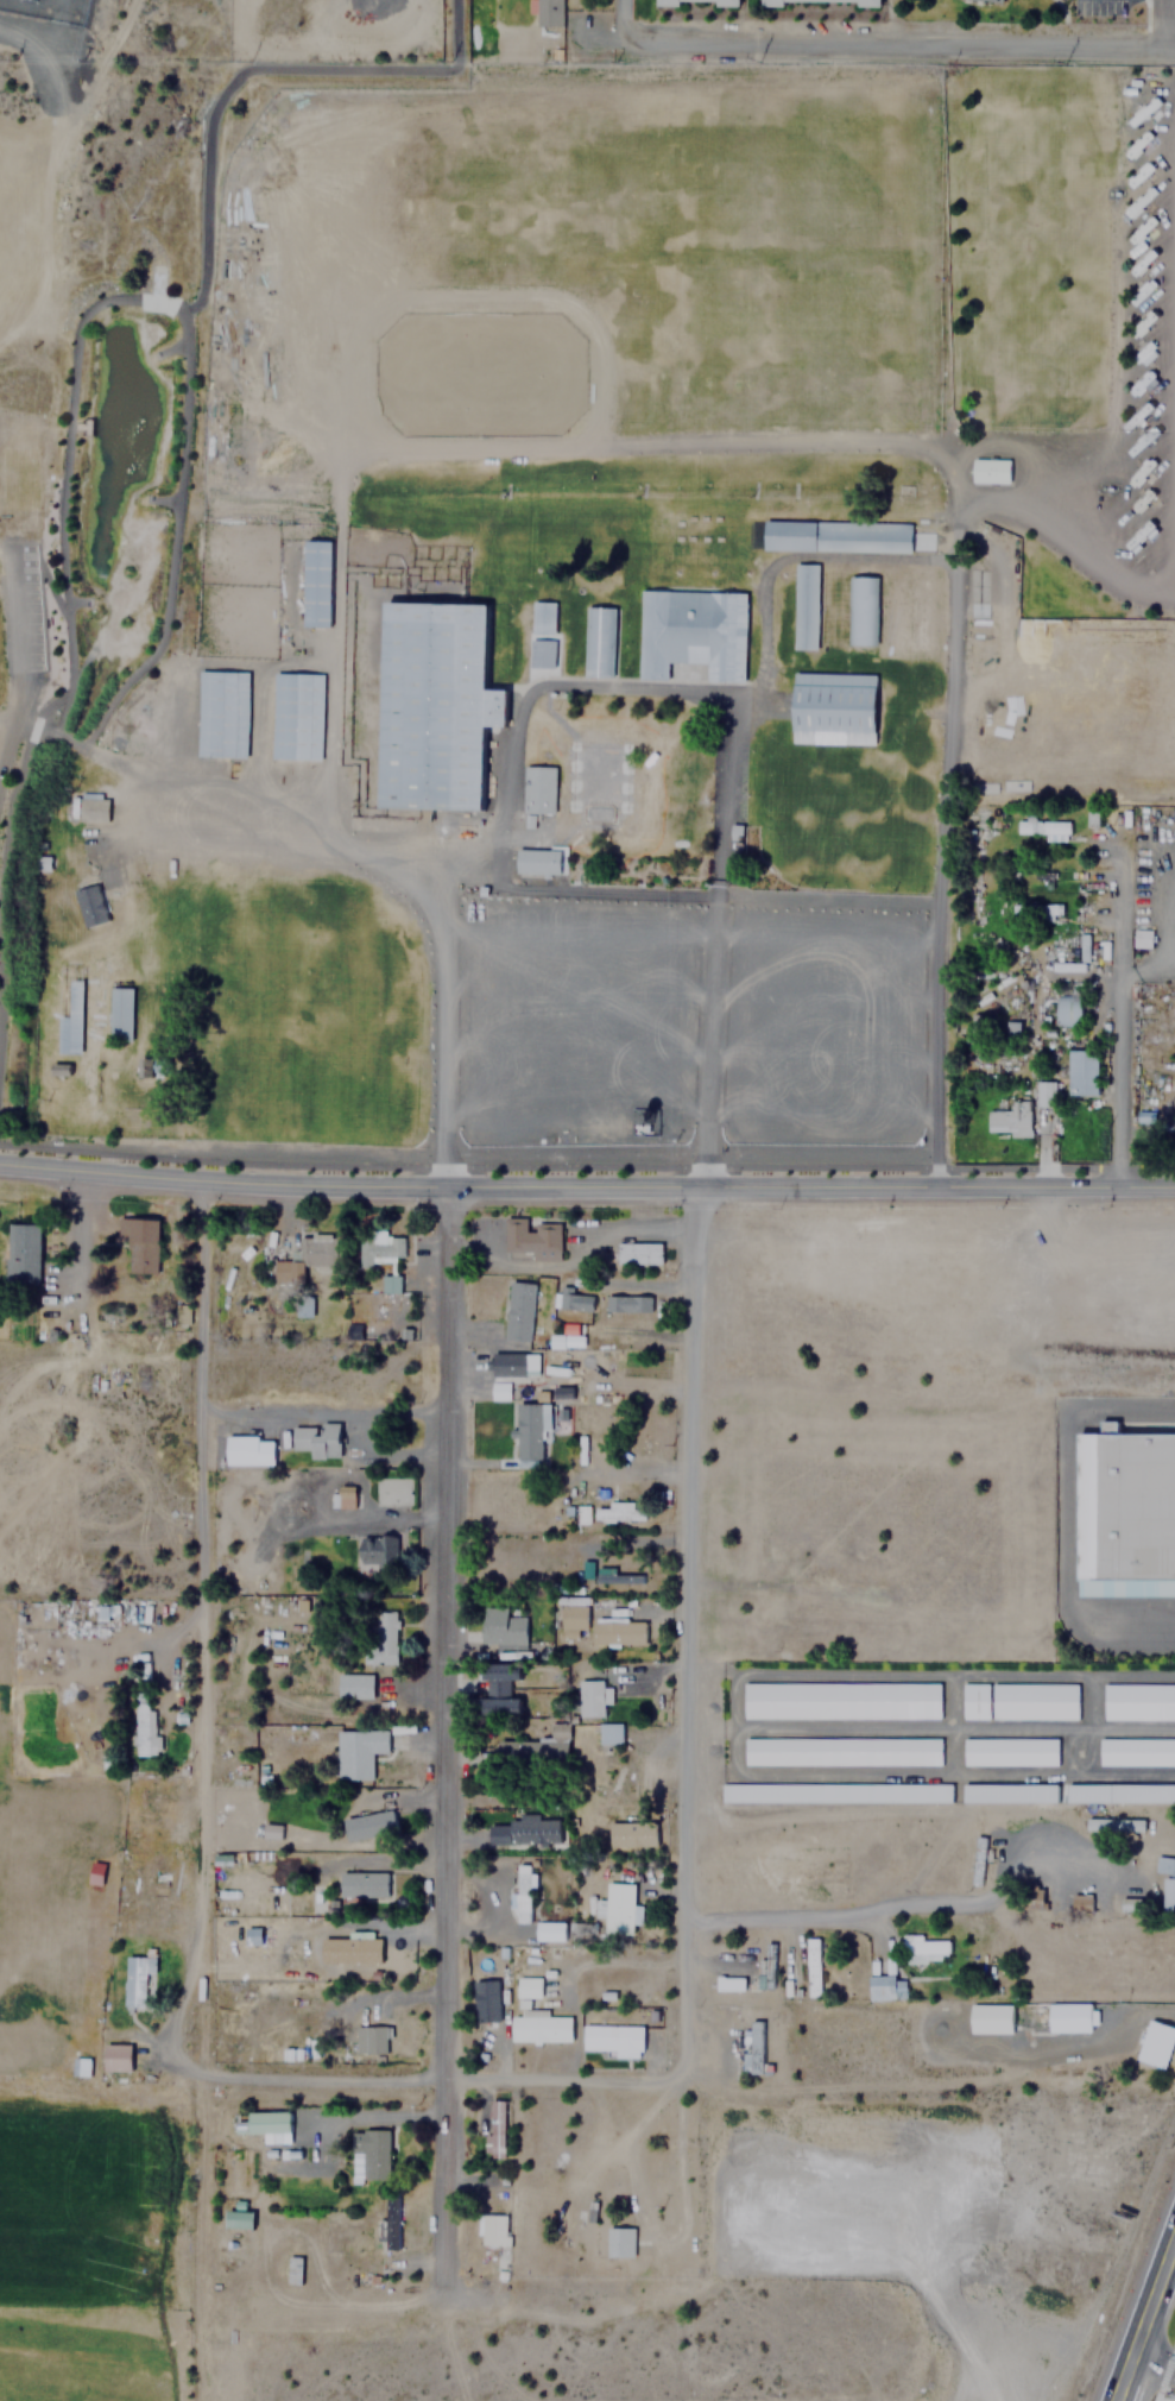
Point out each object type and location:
building: (684, 0)
building: (998, 0)
building: (814, 1)
power substation: (49, 10)
building: (545, 12)
road: (1164, 21)
road: (910, 44)
road: (214, 51)
building: (988, 471)
building: (834, 536)
building: (314, 584)
building: (803, 607)
building: (917, 609)
building: (860, 611)
building: (539, 617)
building: (689, 632)
building: (594, 641)
building: (542, 654)
building: (432, 705)
building: (830, 707)
building: (220, 714)
building: (295, 716)
road: (29, 729)
building: (536, 788)
building: (91, 809)
building: (1041, 827)
building: (538, 862)
building: (1044, 876)
building: (189, 894)
building: (87, 905)
building: (1035, 909)
building: (1143, 939)
building: (1067, 1009)
road: (1125, 1012)
building: (118, 1014)
building: (1081, 1072)
building: (1044, 1094)
building: (1007, 1117)
road: (587, 1190)
building: (530, 1239)
building: (139, 1243)
building: (379, 1248)
building: (637, 1253)
building: (21, 1254)
building: (302, 1255)
building: (390, 1284)
building: (574, 1299)
building: (626, 1303)
building: (518, 1310)
building: (183, 1313)
road: (321, 1412)
building: (529, 1431)
building: (315, 1439)
building: (248, 1450)
building: (391, 1491)
building: (343, 1495)
building: (617, 1511)
building: (1124, 1512)
building: (373, 1554)
building: (615, 1575)
building: (573, 1619)
road: (198, 1625)
building: (500, 1627)
building: (617, 1632)
road: (682, 1632)
building: (383, 1637)
building: (355, 1687)
building: (499, 1690)
building: (589, 1697)
building: (839, 1700)
building: (1018, 1701)
building: (1138, 1701)
building: (145, 1731)
building: (608, 1733)
road: (447, 1739)
building: (535, 1747)
building: (840, 1751)
building: (1009, 1751)
building: (1136, 1751)
building: (358, 1752)
building: (1007, 1791)
building: (832, 1792)
building: (1119, 1792)
building: (367, 1823)
building: (1113, 1823)
building: (272, 1830)
building: (523, 1832)
building: (630, 1833)
building: (975, 1859)
building: (1163, 1865)
road: (920, 1870)
building: (95, 1872)
building: (362, 1884)
building: (520, 1892)
building: (1169, 1897)
building: (1030, 1899)
building: (1079, 1901)
building: (1131, 1904)
building: (617, 1905)
building: (550, 1930)
building: (252, 1936)
building: (349, 1947)
building: (923, 1948)
building: (764, 1966)
building: (811, 1966)
building: (134, 1979)
building: (884, 1986)
building: (528, 1987)
building: (485, 2000)
building: (1068, 2016)
building: (990, 2017)
building: (538, 2027)
building: (372, 2038)
building: (613, 2038)
building: (1155, 2042)
building: (752, 2047)
building: (115, 2056)
building: (81, 2066)
road: (444, 2075)
building: (266, 2122)
building: (495, 2128)
building: (369, 2154)
building: (238, 2218)
building: (390, 2219)
building: (493, 2229)
building: (618, 2242)
building: (292, 2269)
road: (1148, 2328)
road: (1156, 2363)

